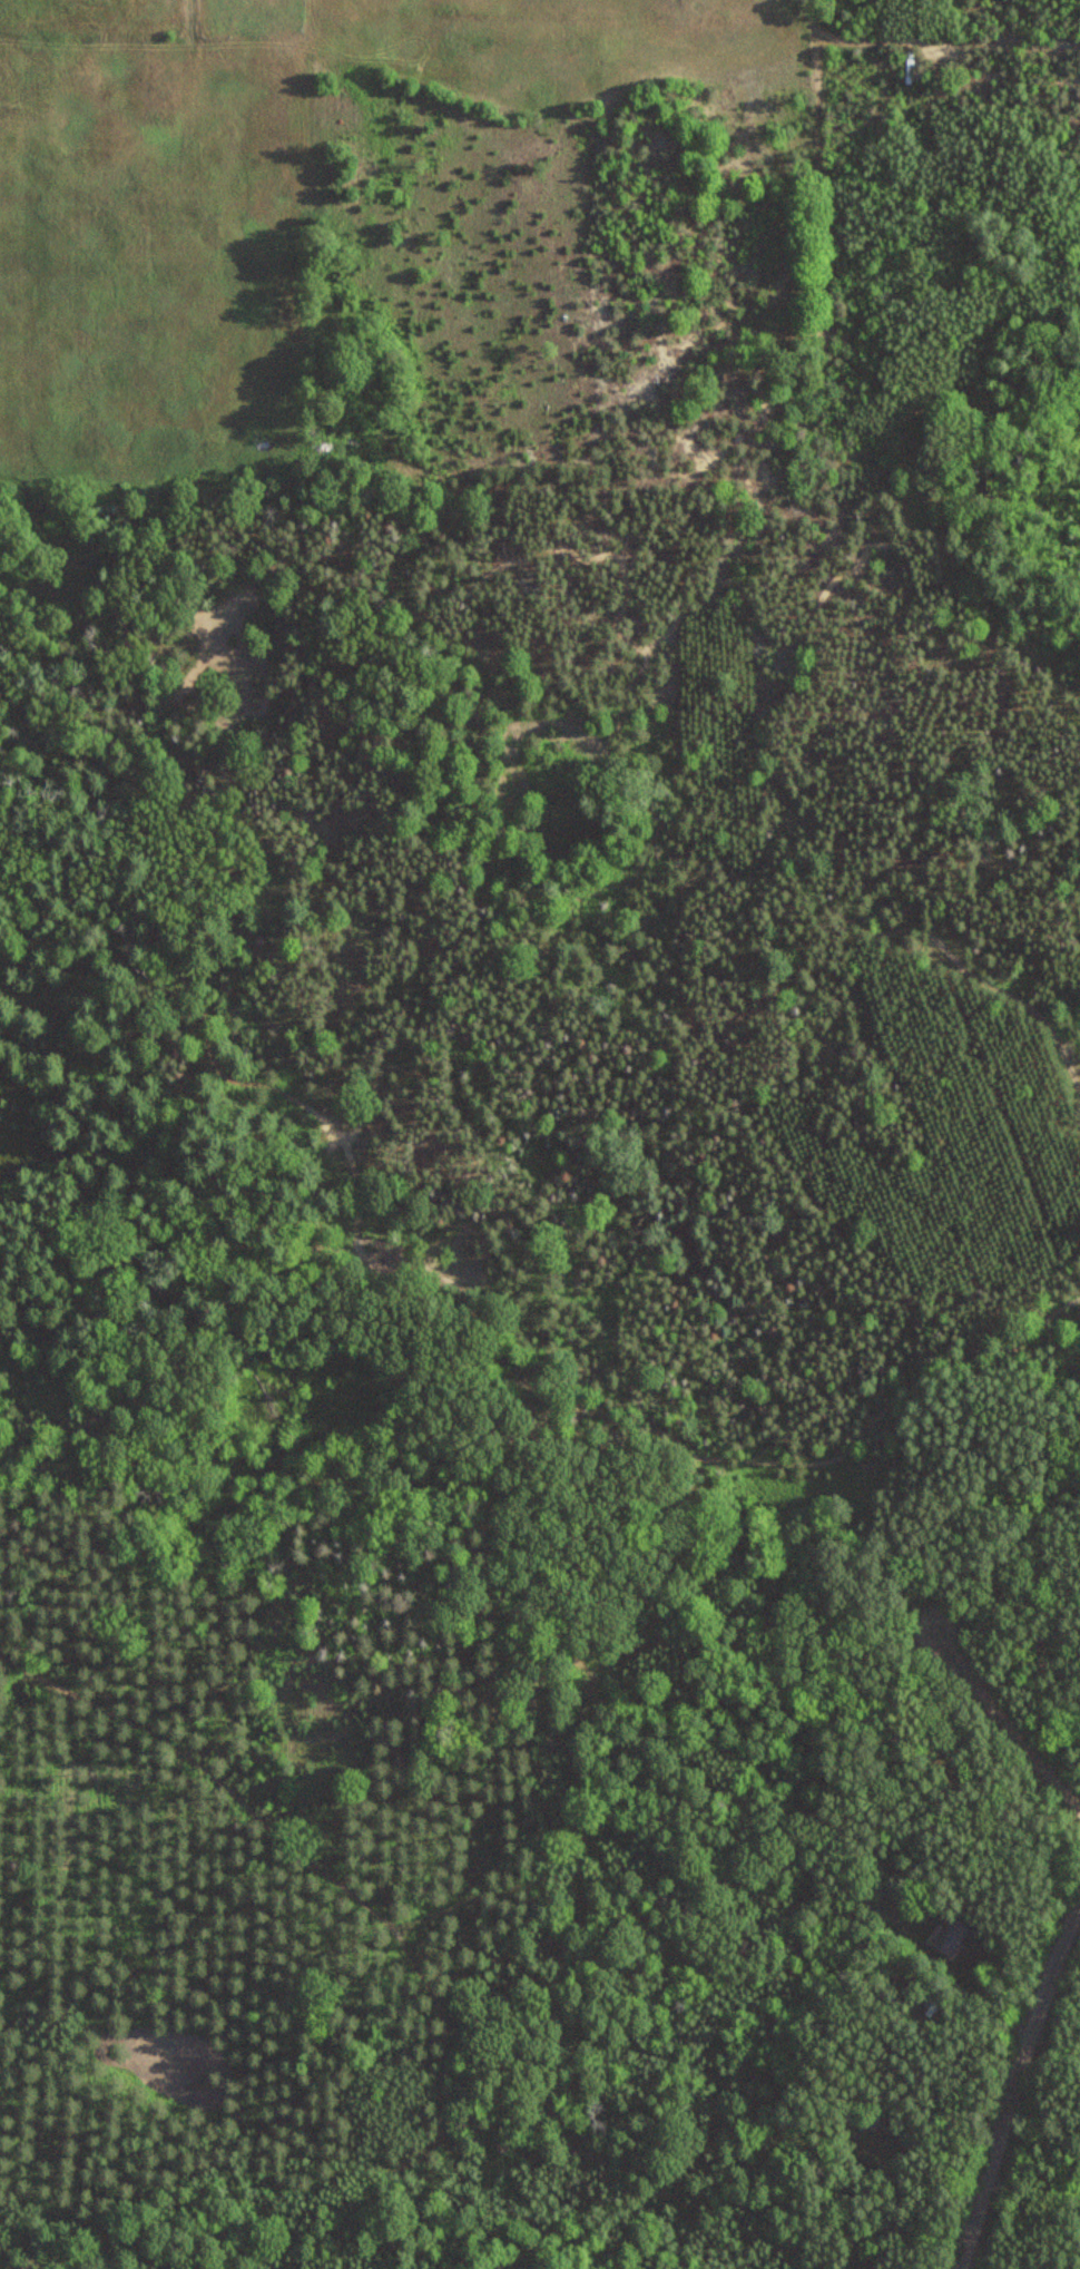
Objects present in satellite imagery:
building: (911, 65)
road: (1003, 1714)
road: (344, 1891)
building: (952, 1937)
road: (1014, 2084)
building: (868, 2121)

